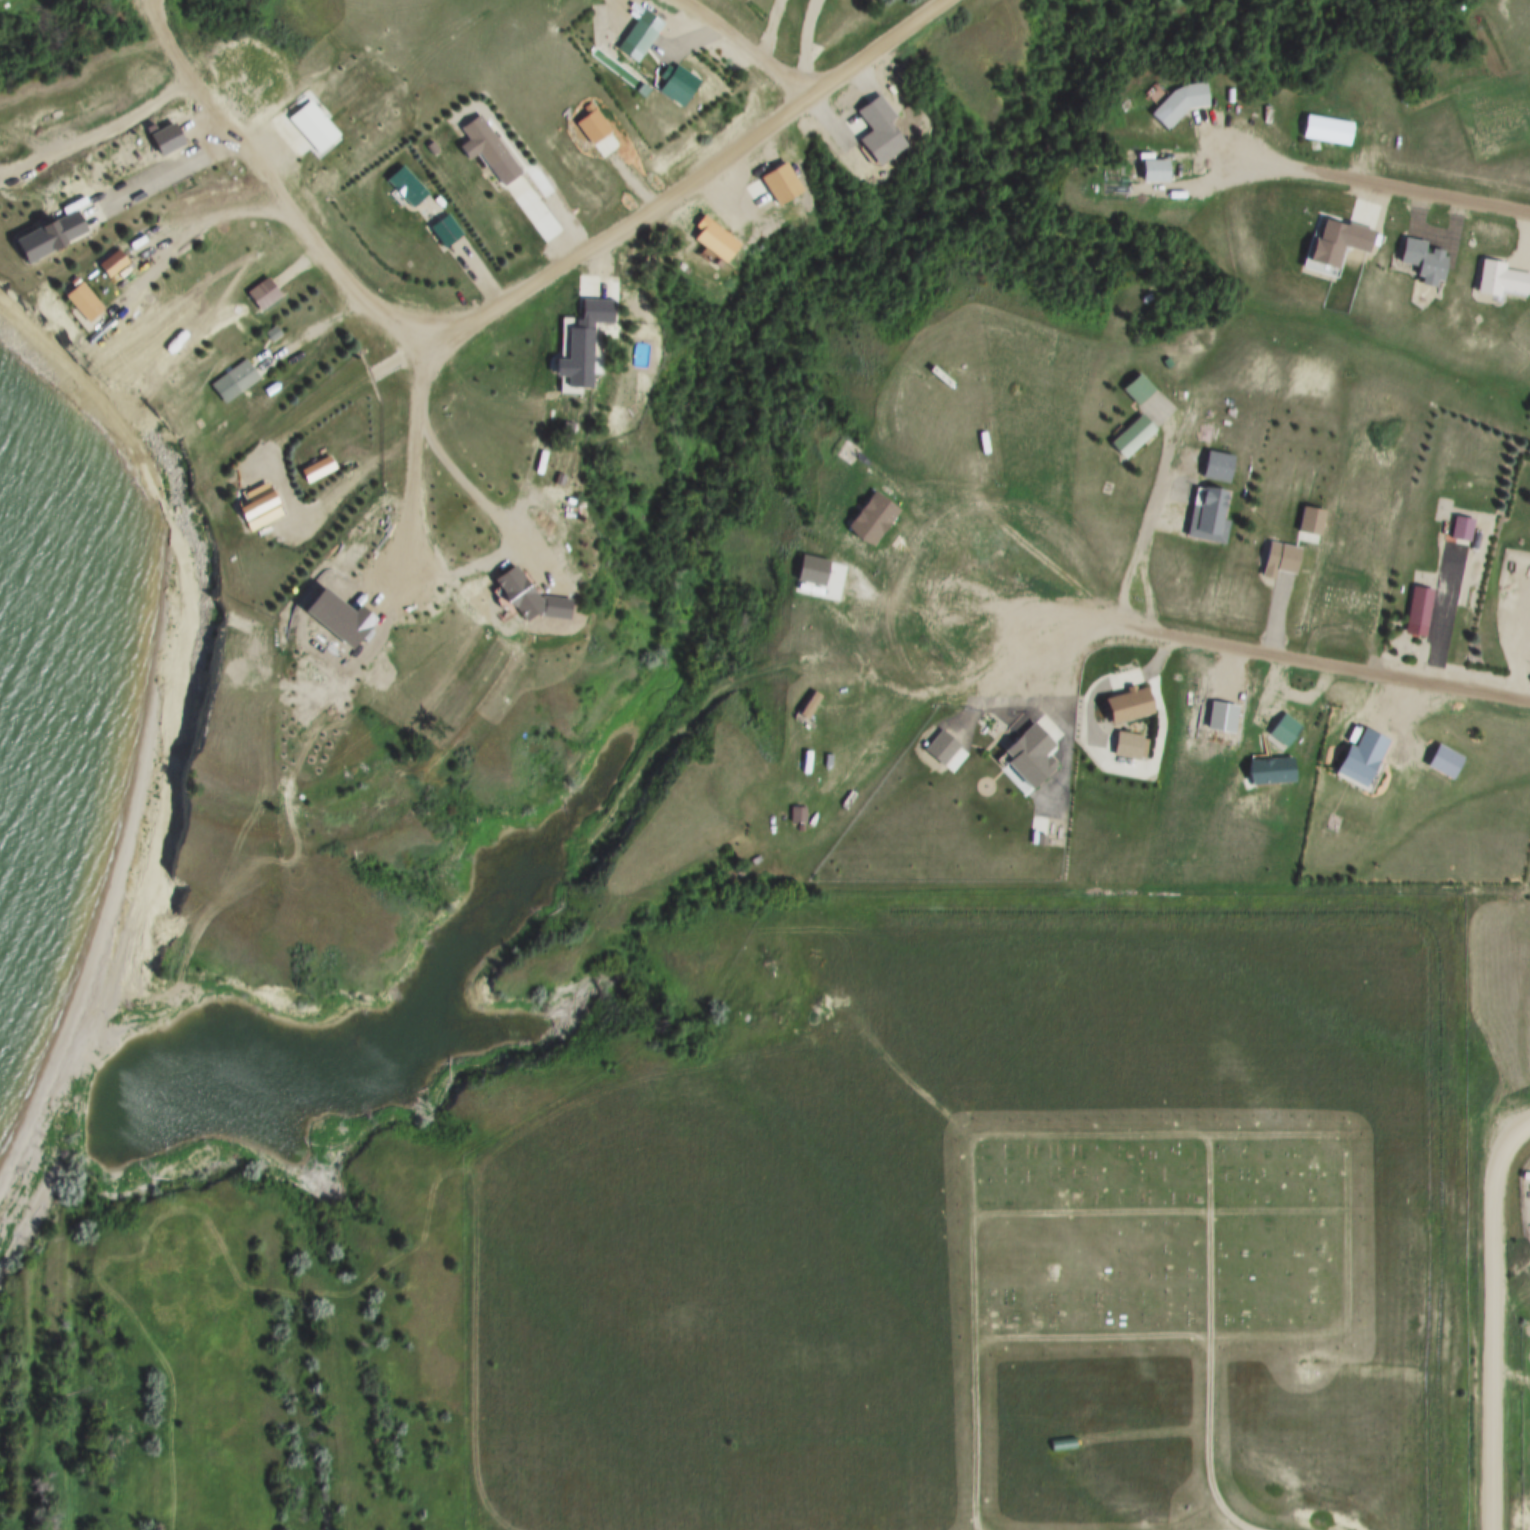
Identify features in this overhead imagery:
road: (770, 30)
building: (646, 32)
building: (632, 37)
road: (806, 44)
road: (750, 51)
building: (666, 84)
building: (684, 88)
building: (1184, 104)
building: (316, 127)
building: (597, 128)
building: (1327, 129)
building: (883, 132)
building: (171, 140)
building: (489, 150)
building: (1158, 171)
road: (714, 173)
road: (1362, 180)
building: (407, 186)
building: (775, 188)
road: (278, 198)
road: (208, 220)
building: (446, 231)
building: (52, 237)
building: (1340, 241)
building: (721, 245)
building: (1425, 262)
building: (118, 265)
road: (160, 266)
road: (296, 267)
building: (1501, 279)
building: (264, 293)
building: (89, 303)
building: (273, 333)
building: (592, 343)
road: (400, 354)
building: (234, 380)
building: (1138, 390)
building: (1133, 436)
road: (413, 450)
building: (1219, 466)
building: (258, 502)
building: (1207, 514)
building: (874, 519)
building: (1463, 529)
building: (1281, 559)
building: (814, 570)
building: (539, 600)
building: (1421, 612)
road: (1443, 617)
building: (341, 619)
road: (1324, 665)
building: (1131, 705)
building: (1285, 730)
building: (1130, 745)
building: (942, 746)
building: (1028, 758)
building: (1363, 758)
building: (1446, 761)
building: (1272, 770)
building: (795, 813)
road: (1045, 1138)
road: (1495, 1319)
road: (1047, 1343)
road: (478, 1360)
road: (1206, 1440)
building: (1064, 1445)

